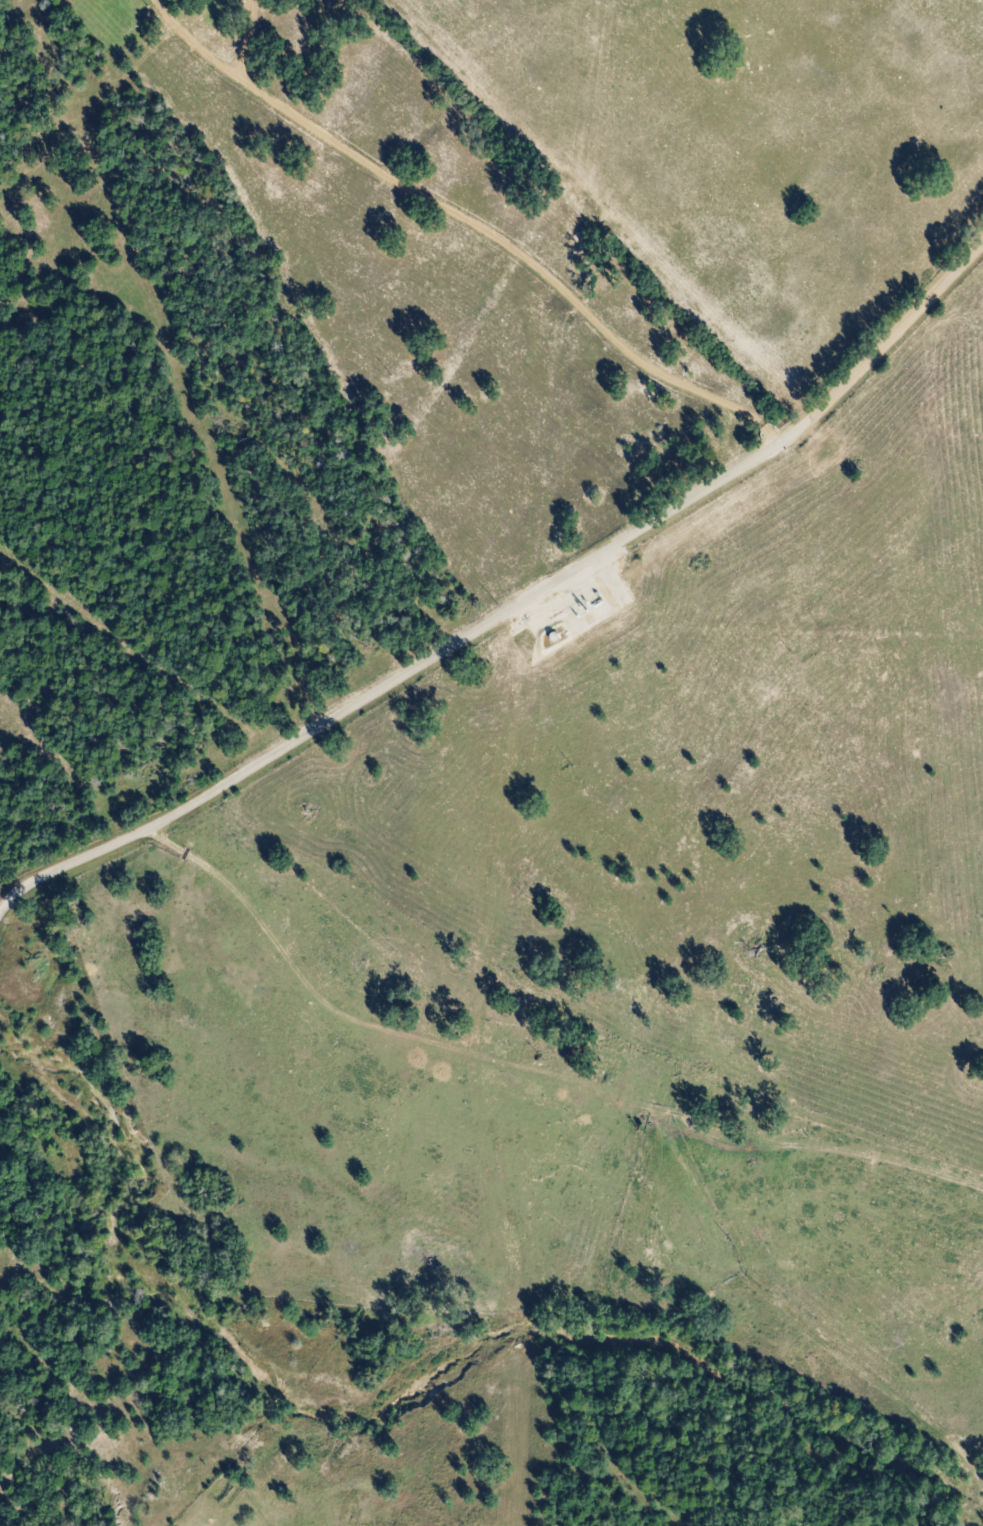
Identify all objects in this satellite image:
road: (512, 606)

